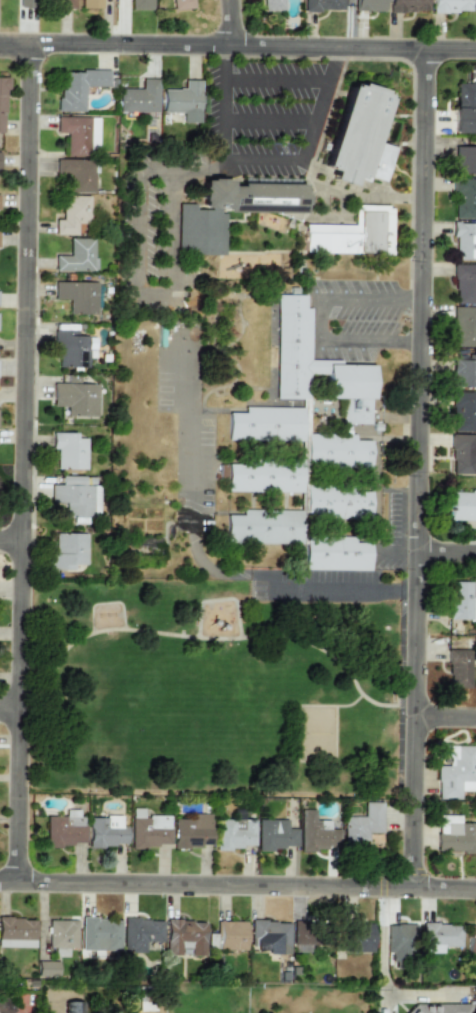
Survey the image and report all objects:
building: (26, 3)
building: (65, 4)
building: (90, 4)
building: (140, 4)
building: (181, 4)
building: (272, 5)
building: (323, 5)
building: (369, 5)
building: (407, 5)
building: (450, 6)
road: (230, 23)
road: (238, 47)
road: (223, 53)
road: (342, 57)
road: (278, 83)
building: (78, 88)
building: (139, 97)
building: (182, 100)
building: (2, 103)
building: (464, 108)
road: (224, 111)
road: (321, 116)
road: (272, 119)
building: (78, 134)
building: (357, 148)
building: (464, 159)
road: (220, 165)
building: (77, 173)
building: (463, 198)
building: (71, 214)
building: (233, 218)
road: (136, 228)
road: (174, 229)
building: (356, 237)
building: (463, 239)
building: (76, 256)
building: (464, 283)
road: (152, 292)
building: (76, 296)
road: (370, 302)
road: (320, 323)
building: (464, 325)
road: (370, 344)
building: (72, 348)
building: (463, 372)
building: (76, 398)
building: (303, 410)
building: (461, 411)
building: (69, 450)
building: (462, 453)
road: (23, 463)
road: (416, 469)
building: (76, 497)
building: (337, 502)
building: (462, 505)
building: (264, 527)
road: (11, 539)
building: (68, 551)
building: (336, 553)
road: (202, 559)
road: (445, 561)
building: (459, 600)
road: (300, 623)
road: (215, 641)
road: (44, 647)
park: (208, 693)
road: (9, 708)
road: (353, 708)
road: (442, 727)
building: (455, 772)
building: (362, 824)
building: (63, 829)
building: (191, 830)
building: (105, 831)
building: (149, 831)
building: (234, 833)
building: (275, 834)
building: (315, 834)
building: (455, 834)
road: (237, 885)
building: (16, 931)
building: (61, 933)
building: (140, 933)
building: (99, 934)
building: (231, 935)
building: (270, 935)
building: (357, 936)
building: (439, 936)
building: (184, 937)
building: (302, 938)
building: (471, 940)
building: (397, 946)
road: (382, 965)
building: (12, 1007)
building: (72, 1007)
building: (439, 1008)

